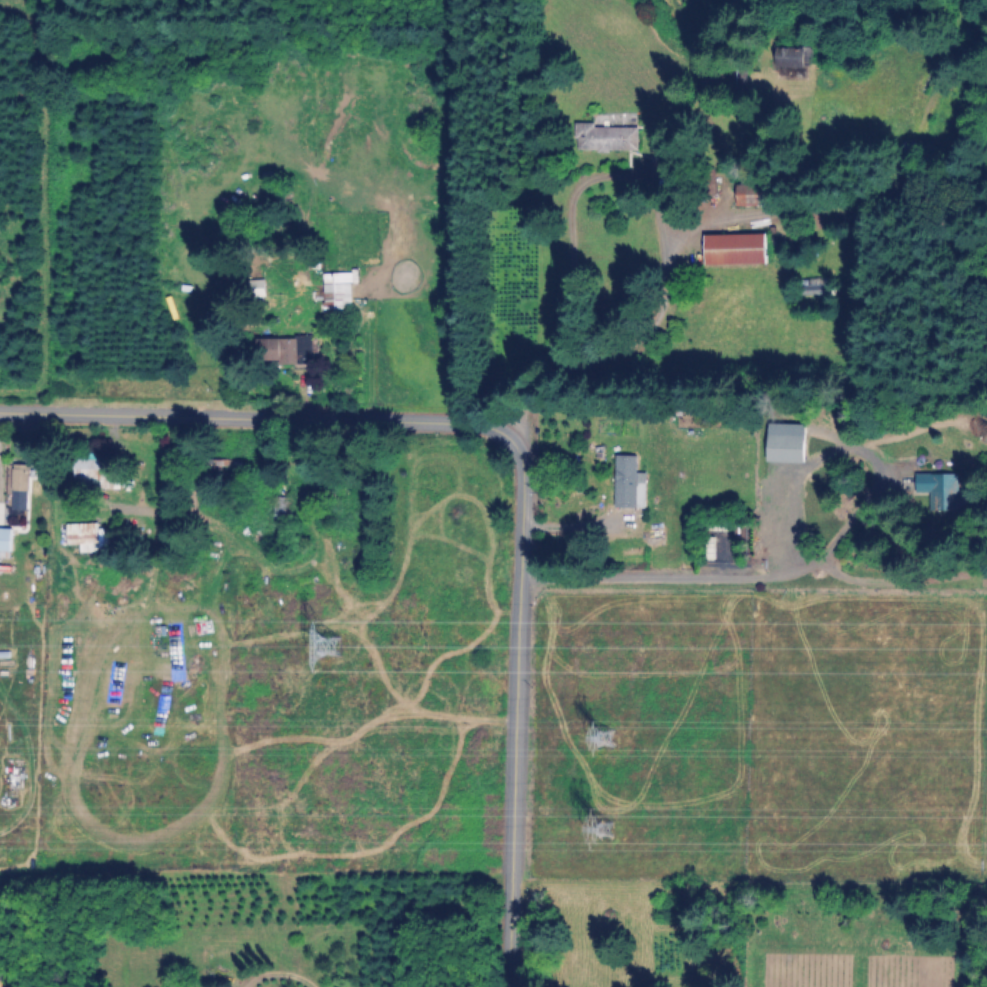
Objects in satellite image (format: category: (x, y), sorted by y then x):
building: (741, 248)
road: (568, 260)
building: (342, 289)
road: (638, 338)
building: (793, 447)
road: (511, 459)
building: (94, 472)
building: (628, 477)
building: (16, 488)
building: (283, 508)
road: (572, 518)
road: (829, 524)
building: (83, 533)
building: (7, 538)
road: (694, 576)
power tower: (331, 645)
power tower: (592, 743)
power tower: (595, 823)
road: (278, 973)

